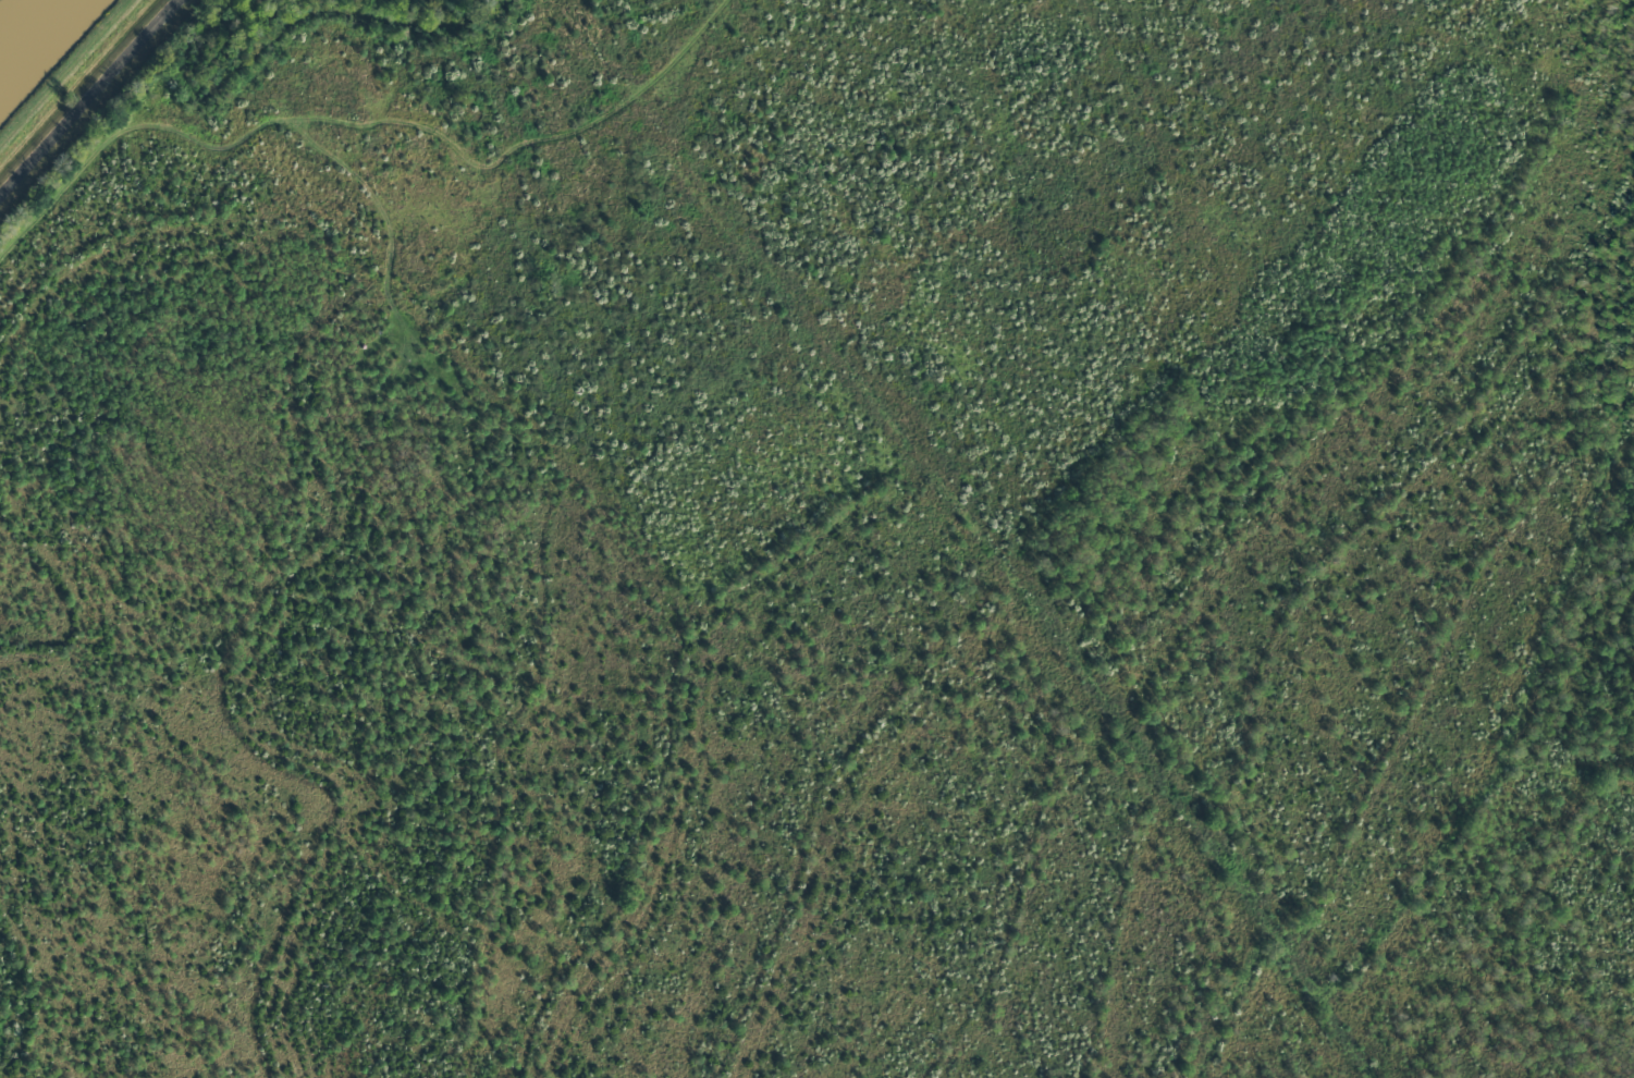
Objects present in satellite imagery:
road: (89, 99)

